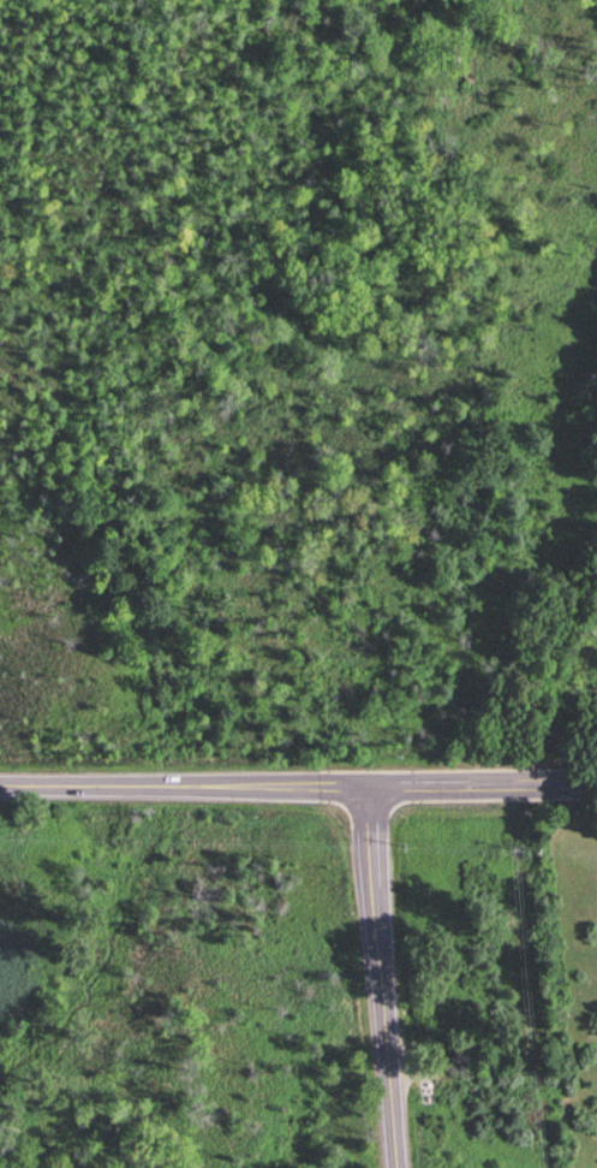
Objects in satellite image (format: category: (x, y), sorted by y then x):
road: (298, 784)
road: (384, 977)

